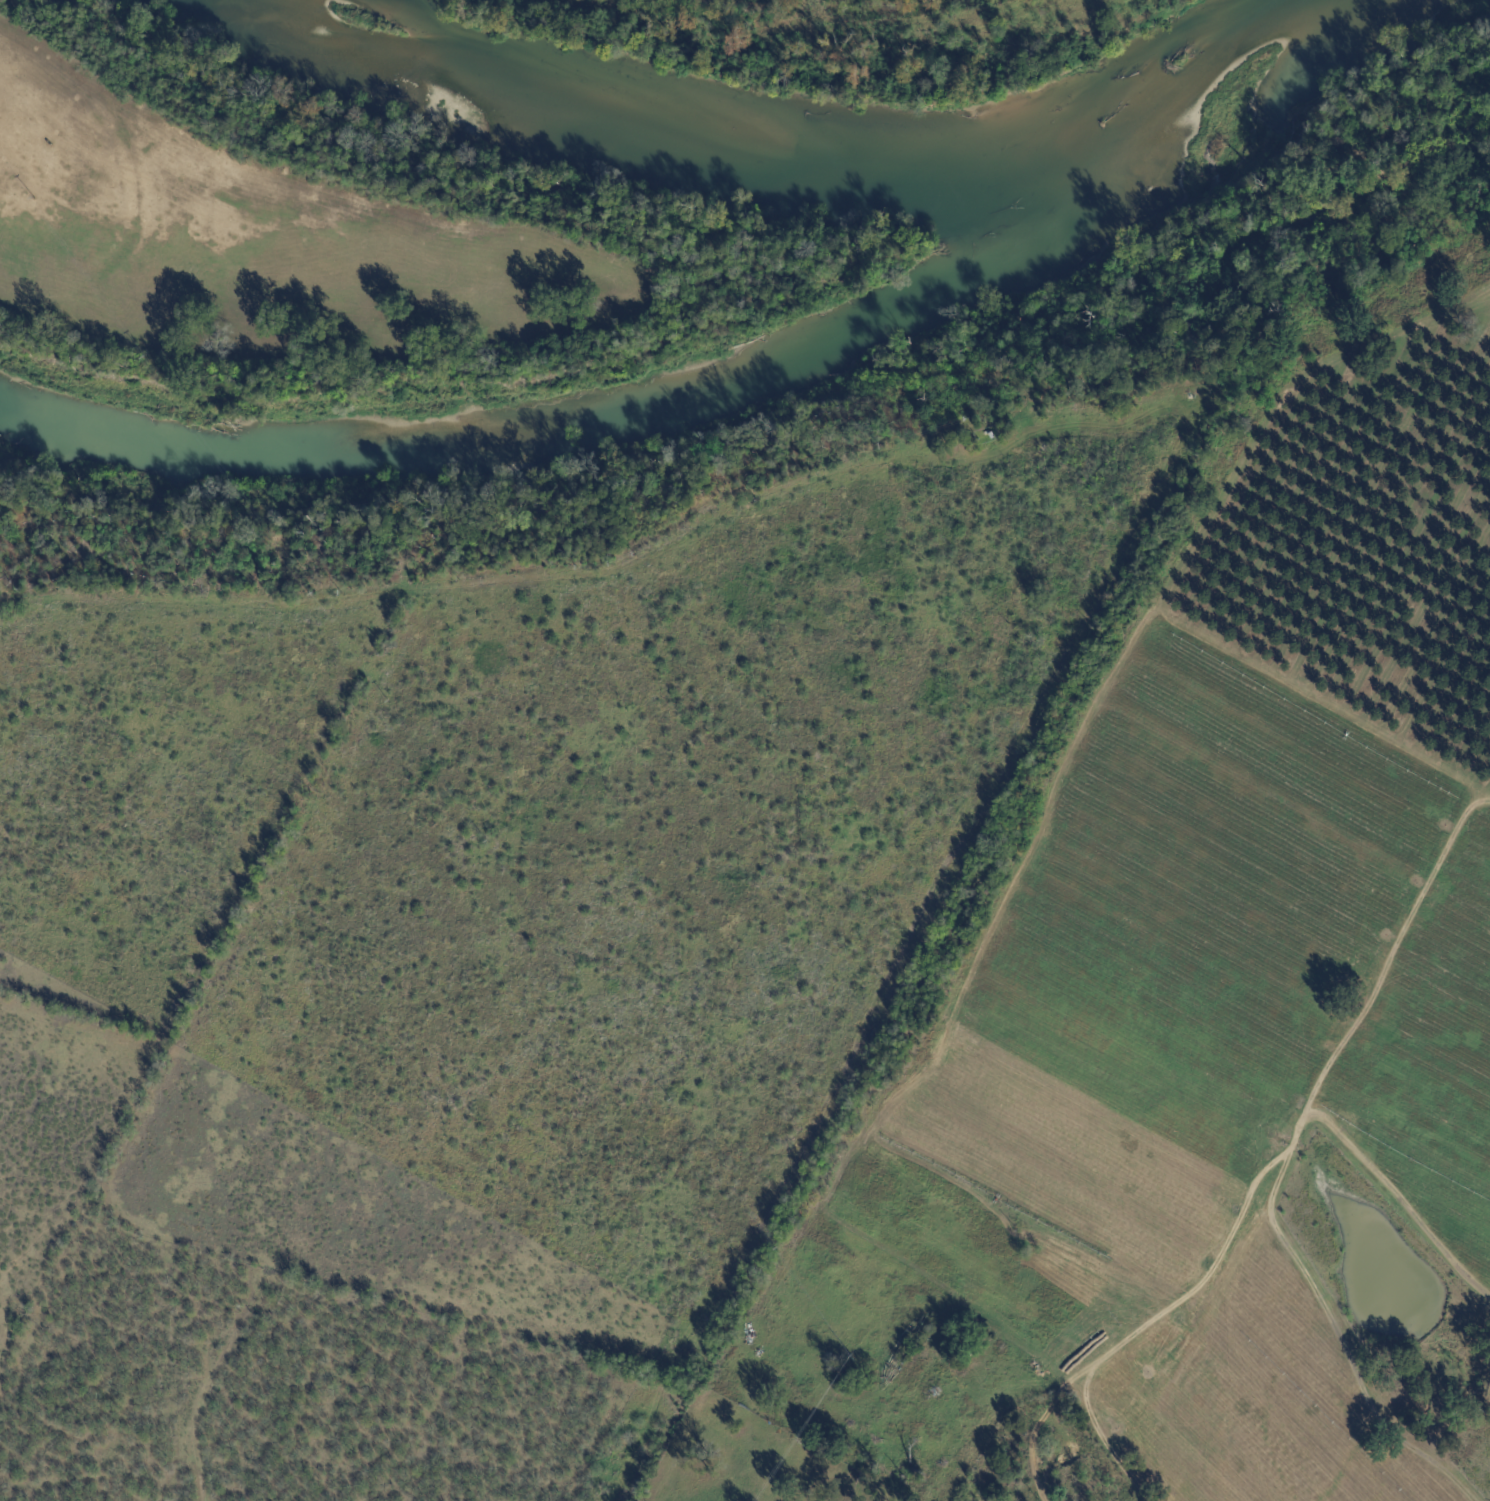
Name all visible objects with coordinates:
river: (774, 152)
building: (807, 389)
river: (646, 409)

